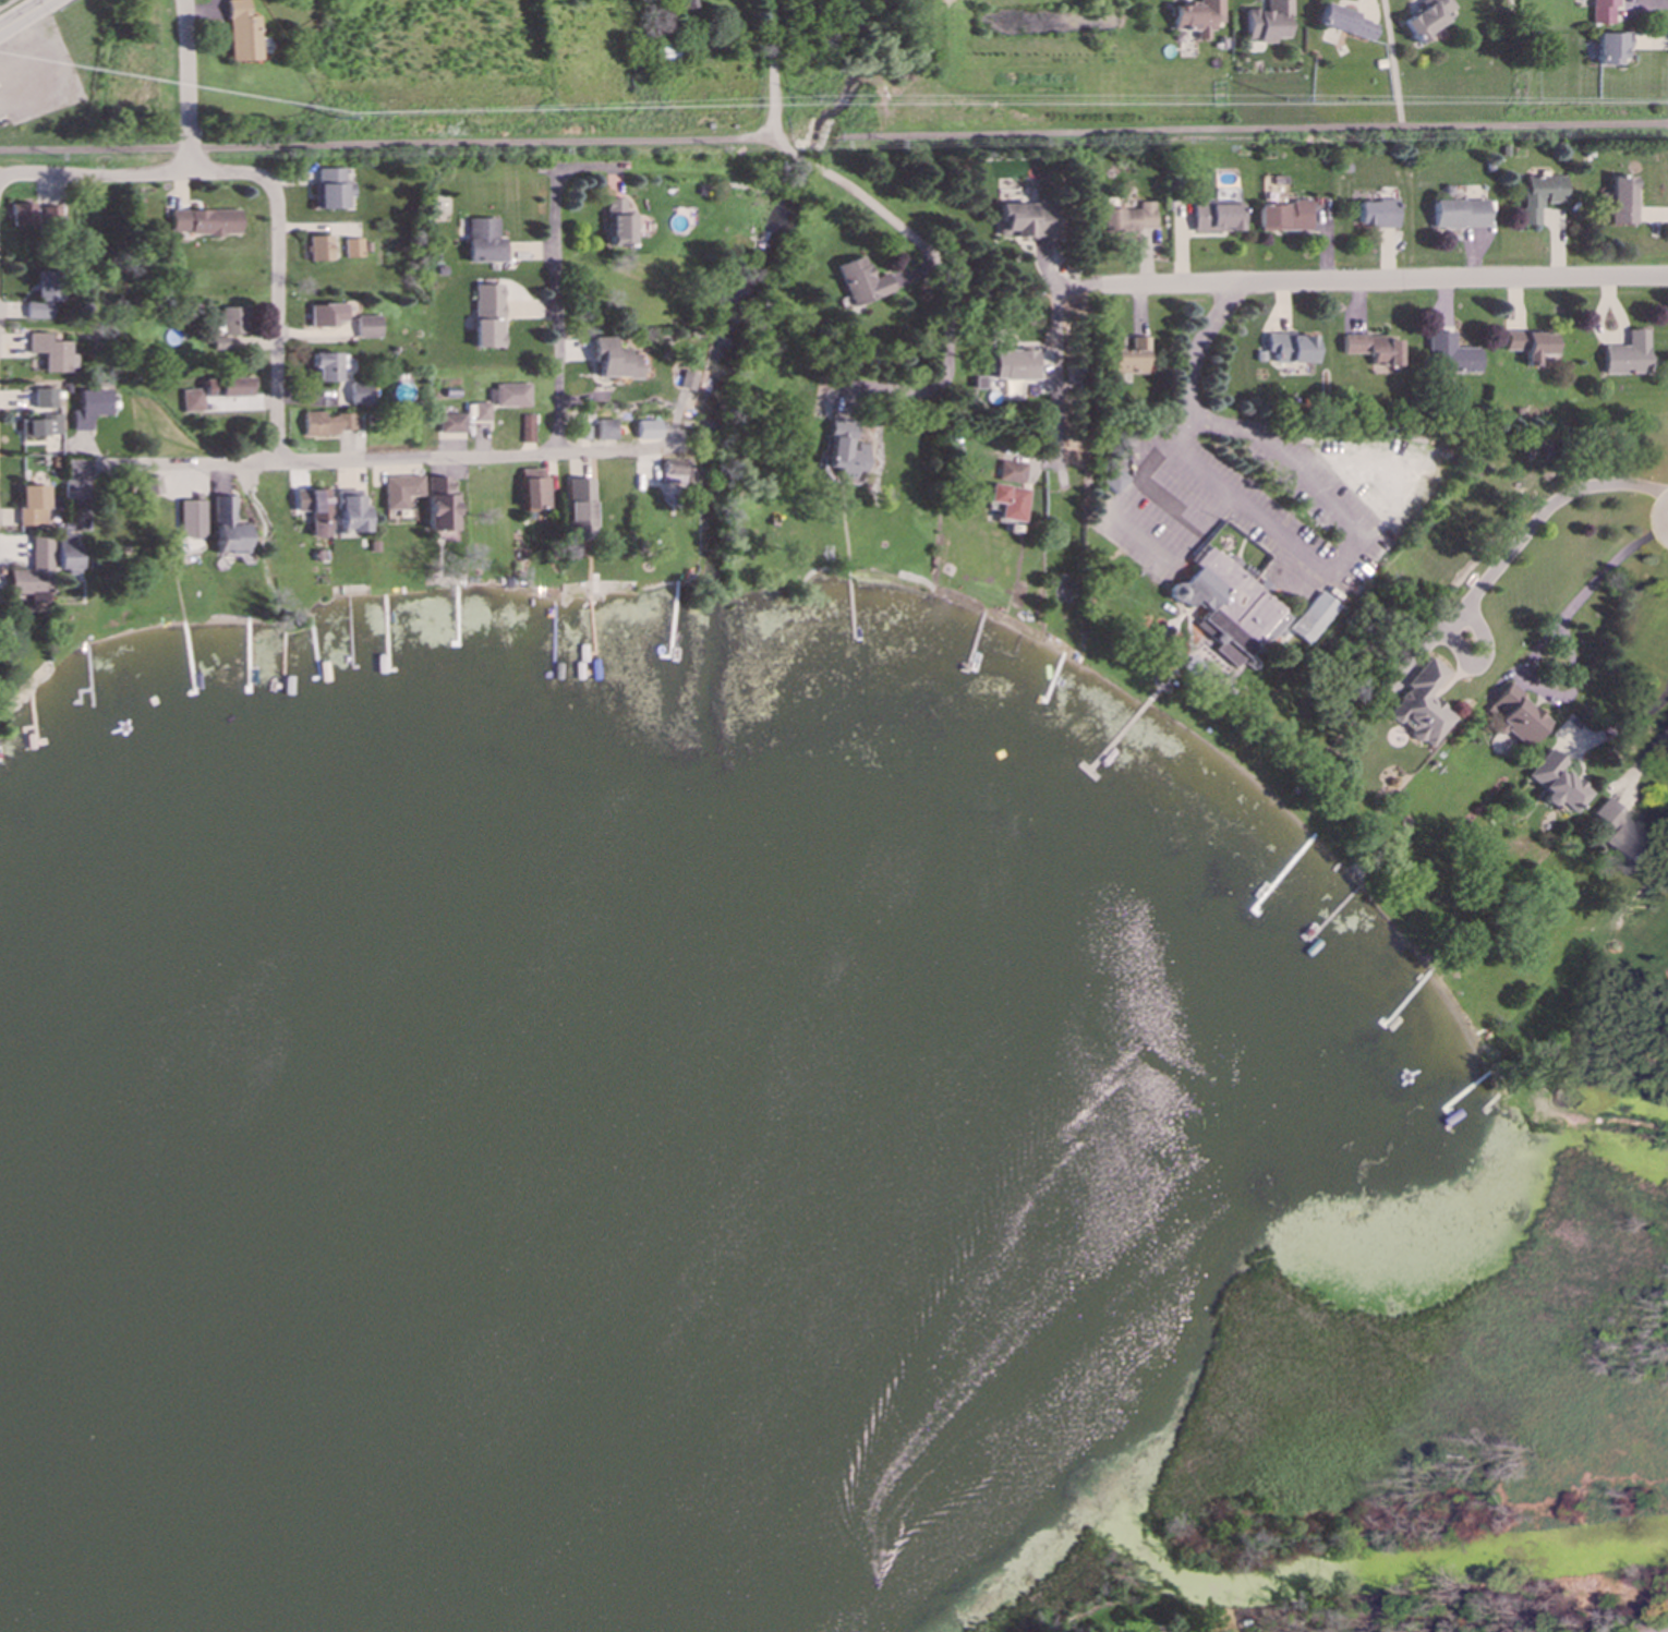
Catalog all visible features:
road: (4, 2)
building: (681, 4)
building: (1603, 11)
road: (26, 16)
building: (1196, 17)
building: (1425, 17)
building: (1267, 21)
building: (1345, 23)
building: (242, 33)
building: (1610, 48)
road: (1391, 62)
road: (185, 86)
power tower: (1300, 97)
power tower: (806, 106)
power tower: (347, 113)
road: (1222, 129)
road: (389, 146)
road: (589, 169)
road: (270, 186)
building: (330, 190)
road: (859, 196)
building: (1539, 196)
building: (1622, 201)
building: (1376, 214)
building: (1459, 214)
building: (22, 215)
building: (1214, 215)
building: (50, 216)
building: (1282, 217)
building: (1127, 218)
building: (1024, 220)
building: (204, 222)
building: (617, 222)
building: (483, 241)
building: (318, 249)
building: (352, 249)
road: (1359, 281)
building: (861, 282)
building: (44, 294)
road: (556, 312)
building: (325, 315)
building: (487, 316)
building: (234, 321)
building: (367, 327)
building: (220, 343)
building: (1530, 344)
building: (1289, 348)
building: (1371, 349)
building: (50, 352)
building: (1452, 354)
building: (1629, 354)
building: (1129, 359)
building: (613, 360)
building: (1011, 364)
building: (324, 367)
road: (1053, 375)
road: (874, 385)
building: (233, 387)
building: (360, 394)
building: (510, 395)
building: (44, 398)
building: (193, 400)
building: (89, 408)
building: (481, 412)
building: (450, 423)
building: (326, 424)
building: (40, 426)
building: (527, 428)
building: (608, 430)
building: (650, 430)
road: (611, 451)
building: (841, 451)
road: (324, 460)
building: (1010, 472)
building: (678, 473)
building: (1112, 480)
building: (535, 488)
building: (73, 489)
building: (400, 491)
building: (1007, 501)
building: (442, 504)
building: (32, 505)
building: (581, 509)
road: (1220, 509)
building: (314, 510)
building: (350, 511)
road: (1540, 517)
building: (190, 519)
building: (227, 528)
building: (65, 553)
road: (1605, 571)
building: (34, 573)
building: (1226, 607)
building: (1313, 618)
building: (1422, 704)
road: (1655, 705)
building: (1516, 715)
road: (1651, 748)
building: (1556, 782)
building: (1623, 834)
road: (1635, 893)

